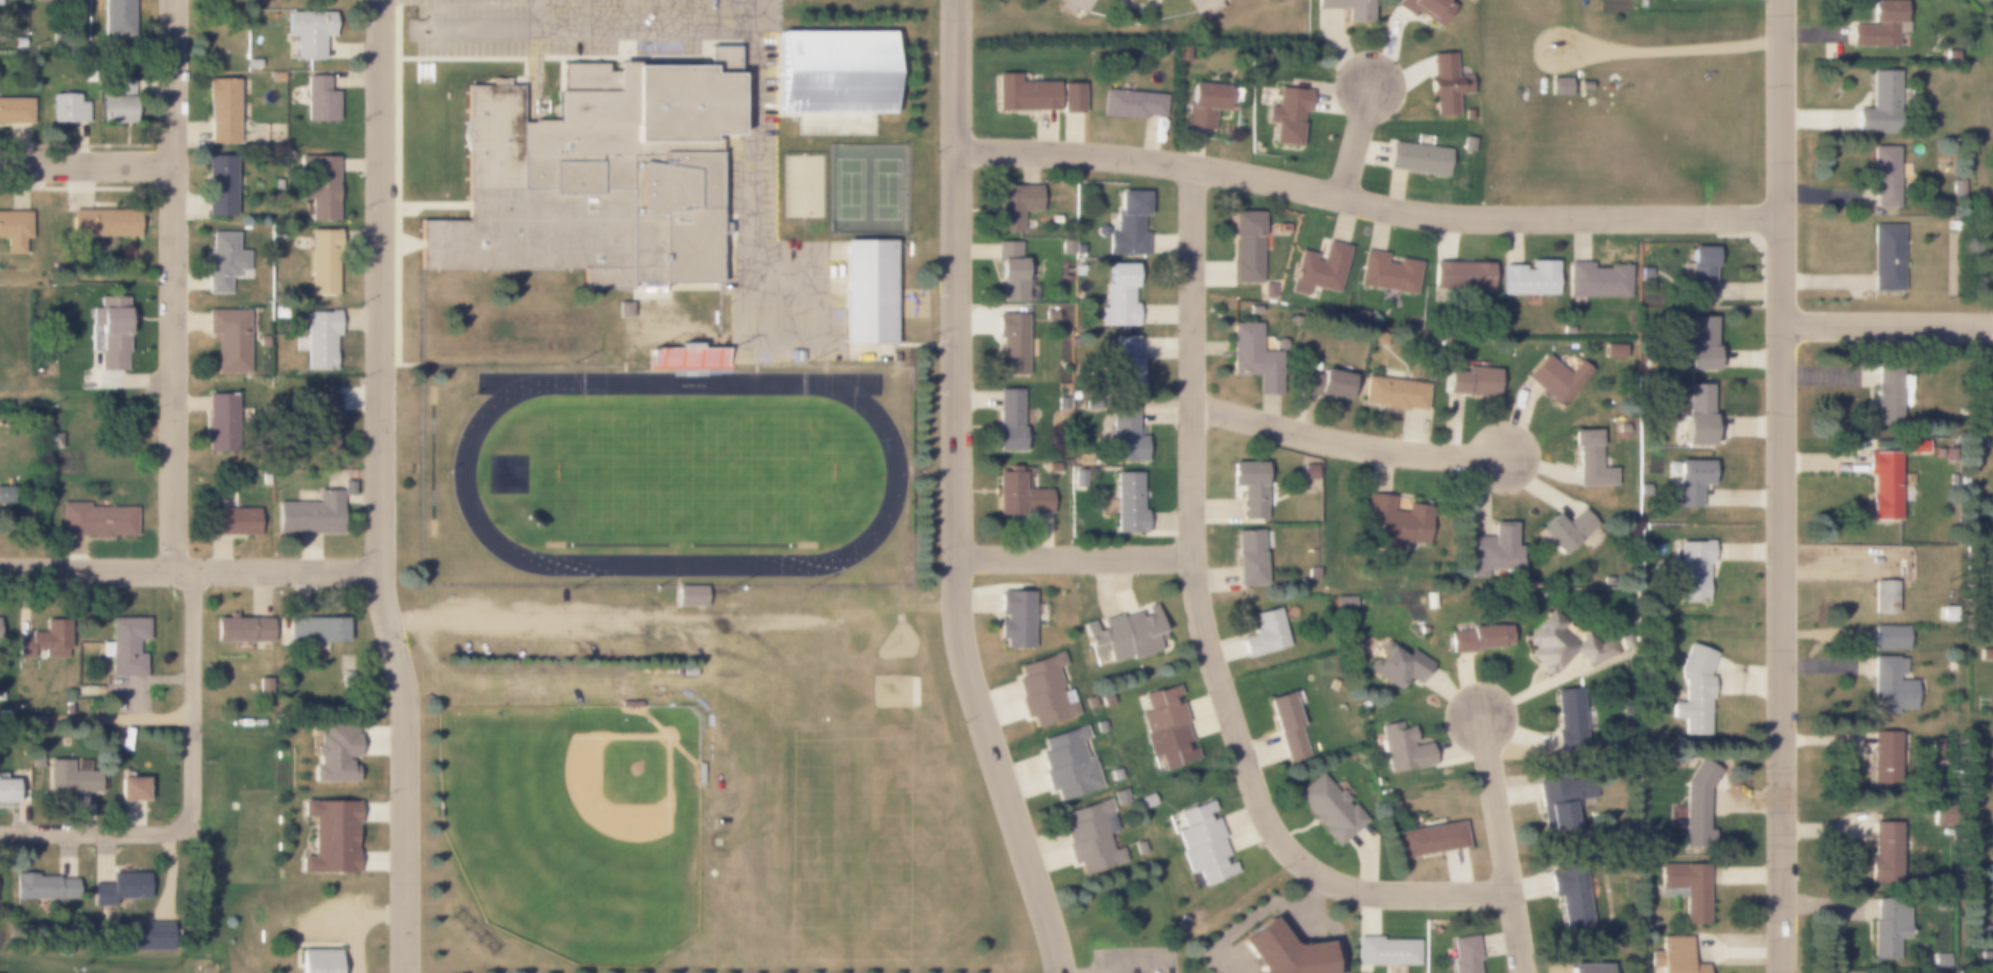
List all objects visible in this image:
building: (1279, 0)
building: (1, 2)
building: (58, 2)
building: (1205, 5)
building: (1076, 6)
building: (1346, 8)
building: (1424, 8)
building: (116, 19)
building: (1877, 24)
building: (308, 32)
building: (18, 42)
road: (1679, 50)
building: (1950, 55)
building: (837, 81)
building: (1444, 85)
building: (1583, 86)
building: (1558, 87)
building: (1023, 93)
building: (1071, 97)
building: (117, 102)
building: (318, 102)
building: (1128, 104)
building: (1203, 104)
building: (1879, 105)
building: (15, 109)
building: (68, 109)
building: (221, 110)
building: (1466, 115)
building: (1289, 117)
road: (1355, 139)
building: (1416, 159)
road: (87, 165)
building: (1883, 175)
building: (596, 176)
building: (277, 184)
building: (1956, 184)
building: (218, 186)
park: (801, 187)
building: (322, 189)
park: (848, 189)
park: (885, 190)
road: (1365, 201)
building: (1014, 205)
building: (1053, 219)
building: (1126, 223)
building: (101, 225)
building: (1953, 225)
building: (1281, 228)
building: (15, 231)
building: (1065, 244)
building: (1245, 246)
building: (1078, 249)
building: (1886, 258)
building: (222, 261)
building: (322, 262)
parking lot: (780, 266)
building: (1317, 269)
building: (1078, 270)
building: (1387, 272)
building: (1645, 272)
building: (1010, 273)
building: (1700, 274)
building: (1461, 276)
building: (1529, 277)
building: (1596, 281)
road: (174, 285)
building: (1267, 291)
building: (870, 293)
building: (1118, 298)
building: (1050, 314)
road: (1885, 326)
building: (110, 332)
building: (228, 338)
building: (1377, 338)
building: (261, 339)
building: (320, 339)
building: (1011, 342)
building: (686, 345)
building: (1699, 345)
building: (1612, 351)
building: (1251, 352)
building: (714, 358)
building: (1124, 366)
building: (1557, 377)
building: (1324, 381)
building: (1470, 382)
track: (511, 385)
track: (843, 386)
building: (1393, 392)
building: (1886, 399)
building: (1061, 404)
building: (1696, 413)
building: (322, 418)
building: (218, 422)
building: (1009, 423)
building: (1125, 434)
building: (53, 440)
road: (1346, 445)
building: (1915, 446)
building: (1590, 459)
building: (1052, 467)
building: (1308, 472)
park: (691, 473)
track: (678, 476)
building: (264, 479)
building: (1077, 479)
building: (1883, 484)
road: (1778, 486)
building: (1249, 487)
building: (346, 488)
road: (378, 488)
building: (1692, 493)
road: (956, 494)
building: (5, 495)
building: (1018, 495)
building: (1128, 505)
building: (310, 515)
building: (96, 519)
building: (230, 521)
building: (1398, 521)
building: (1569, 533)
building: (1495, 551)
road: (1074, 557)
building: (1248, 557)
building: (1691, 568)
road: (189, 571)
building: (1311, 573)
road: (262, 590)
building: (689, 596)
building: (1883, 597)
building: (1343, 602)
road: (587, 616)
building: (1015, 618)
building: (242, 629)
building: (314, 629)
road: (1205, 631)
building: (1126, 633)
building: (1264, 633)
building: (1888, 637)
building: (1480, 638)
building: (44, 641)
building: (1564, 642)
park: (901, 643)
building: (126, 647)
building: (1985, 653)
building: (1398, 665)
building: (687, 669)
road: (143, 681)
building: (1331, 684)
building: (1888, 685)
building: (263, 686)
building: (1044, 687)
building: (1694, 690)
park: (896, 692)
building: (2, 696)
road: (192, 697)
building: (629, 703)
building: (1568, 718)
road: (95, 720)
building: (1165, 724)
building: (1286, 727)
building: (1401, 749)
building: (334, 754)
building: (1068, 763)
building: (1883, 763)
building: (699, 773)
building: (70, 778)
building: (130, 789)
building: (8, 792)
building: (1565, 799)
building: (1695, 805)
building: (1329, 809)
building: (1937, 810)
park: (576, 826)
road: (94, 834)
building: (330, 836)
building: (1091, 836)
building: (1430, 839)
building: (1203, 841)
road: (1500, 843)
building: (1882, 853)
building: (43, 888)
building: (1687, 888)
building: (120, 889)
building: (1570, 893)
building: (1941, 902)
building: (1888, 928)
building: (1986, 930)
building: (153, 937)
building: (1384, 950)
building: (1279, 952)
building: (1466, 954)
building: (1674, 956)
building: (1986, 957)
building: (318, 961)
building: (1941, 962)

